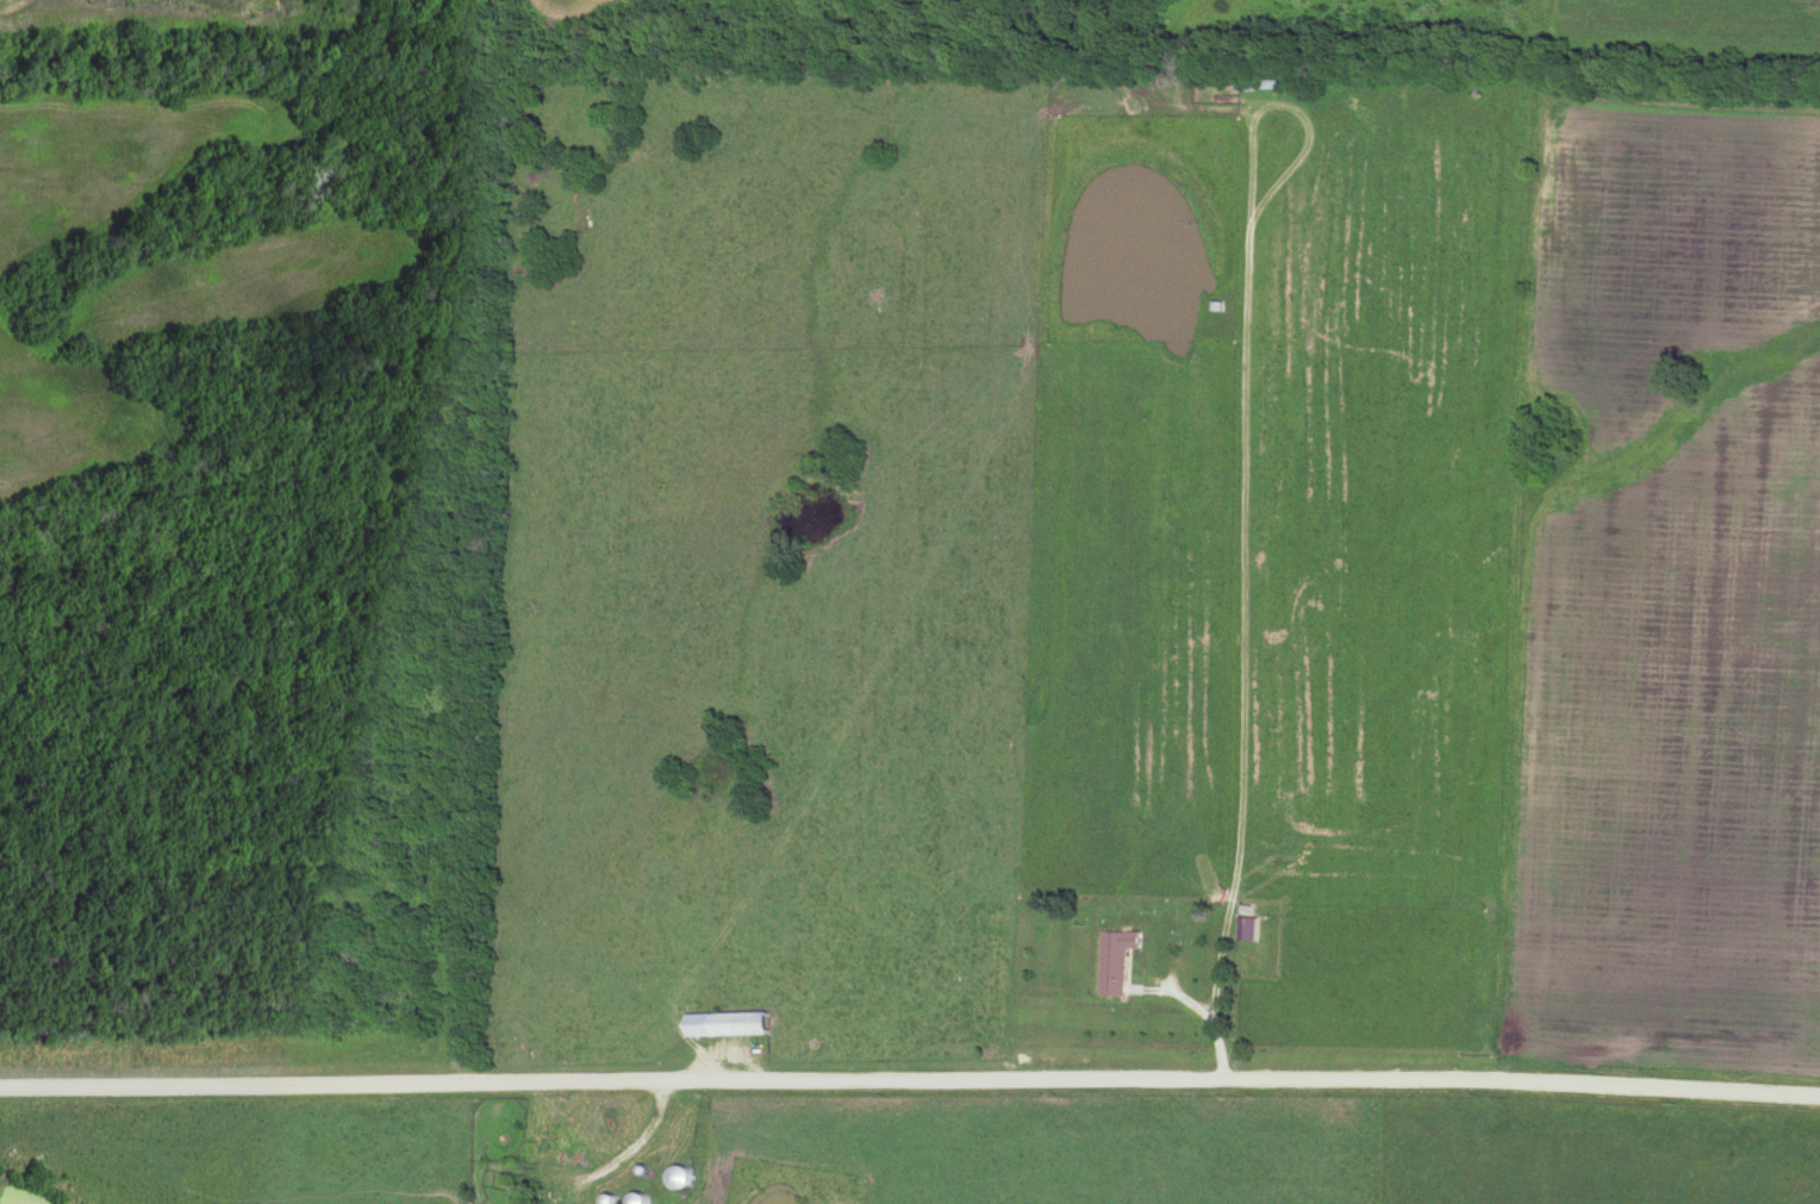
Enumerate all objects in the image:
building: (1242, 929)
building: (1110, 961)
building: (735, 1024)
road: (910, 1075)
building: (548, 1144)
building: (692, 1175)

